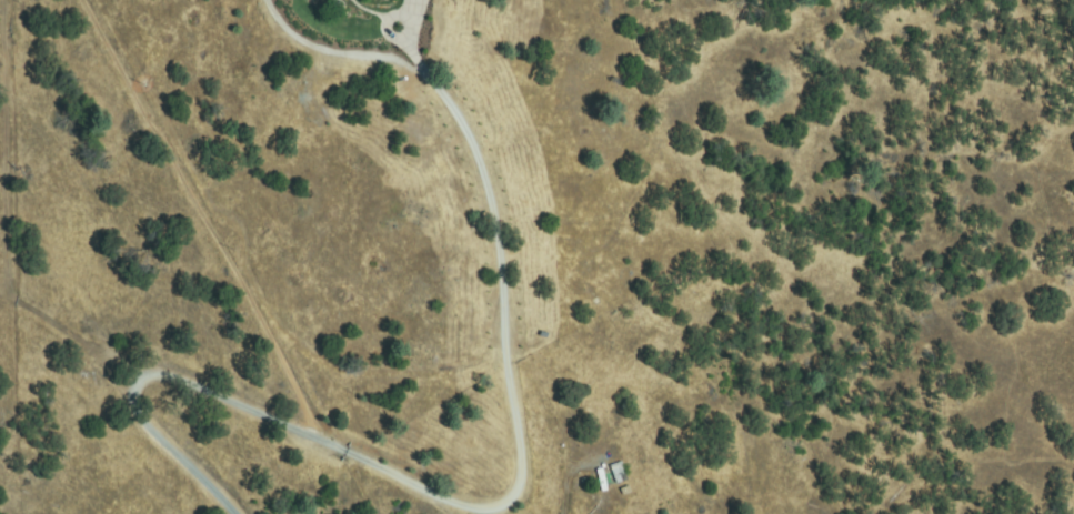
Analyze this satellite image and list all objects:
road: (213, 389)
building: (619, 472)
building: (601, 478)
building: (625, 491)
building: (605, 504)

